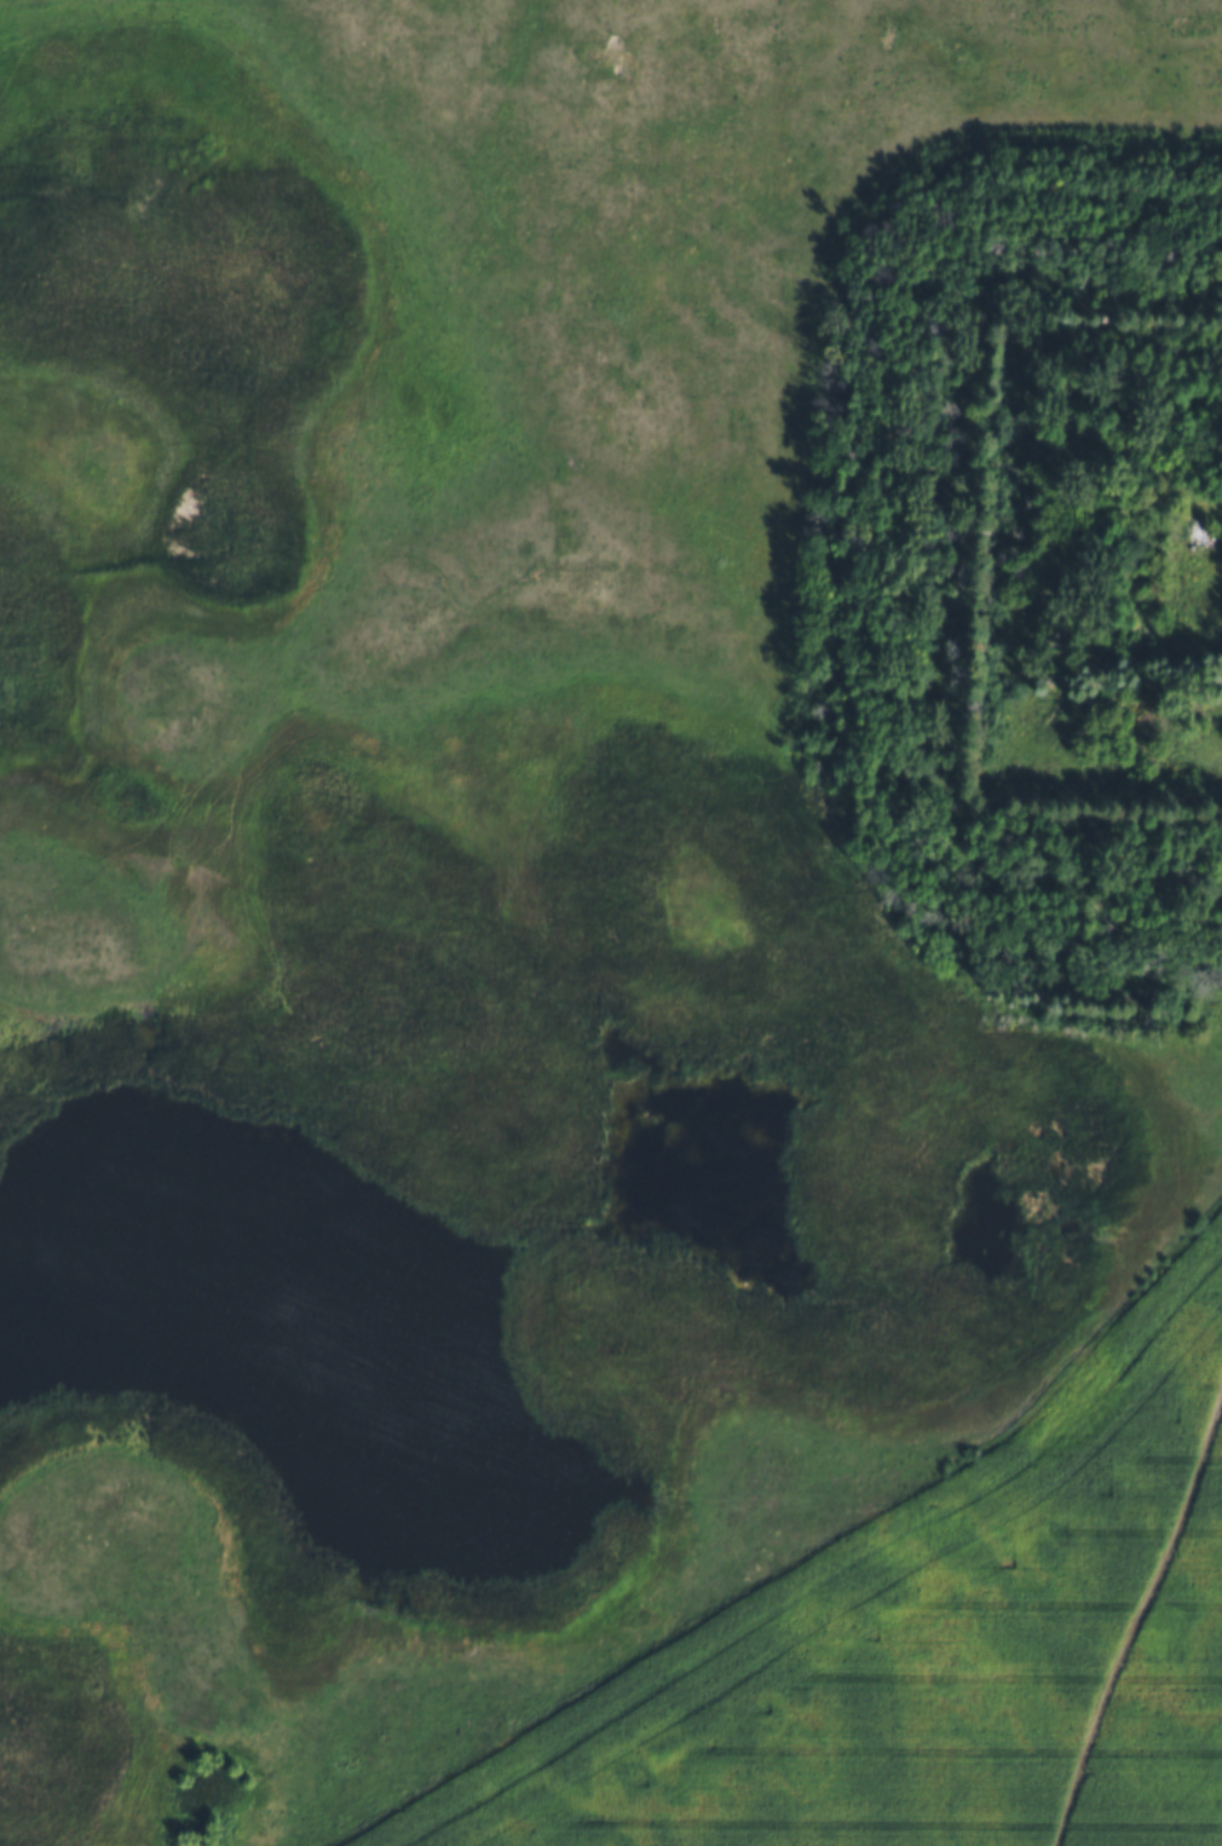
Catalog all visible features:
road: (1136, 1606)

